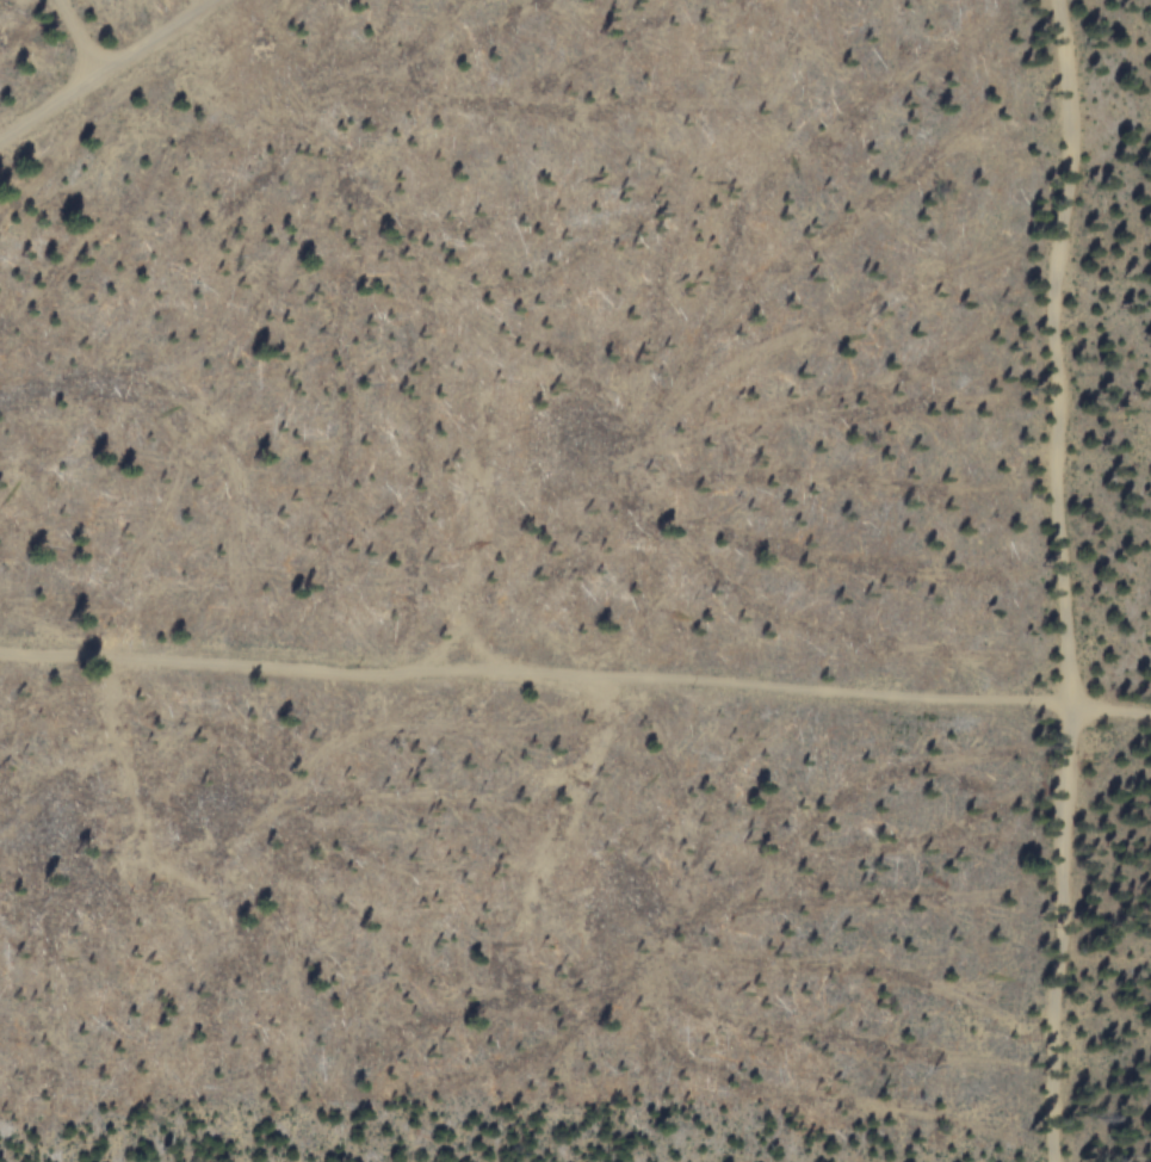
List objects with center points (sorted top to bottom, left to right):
road: (76, 37)
road: (103, 69)
road: (1069, 580)
road: (575, 680)

